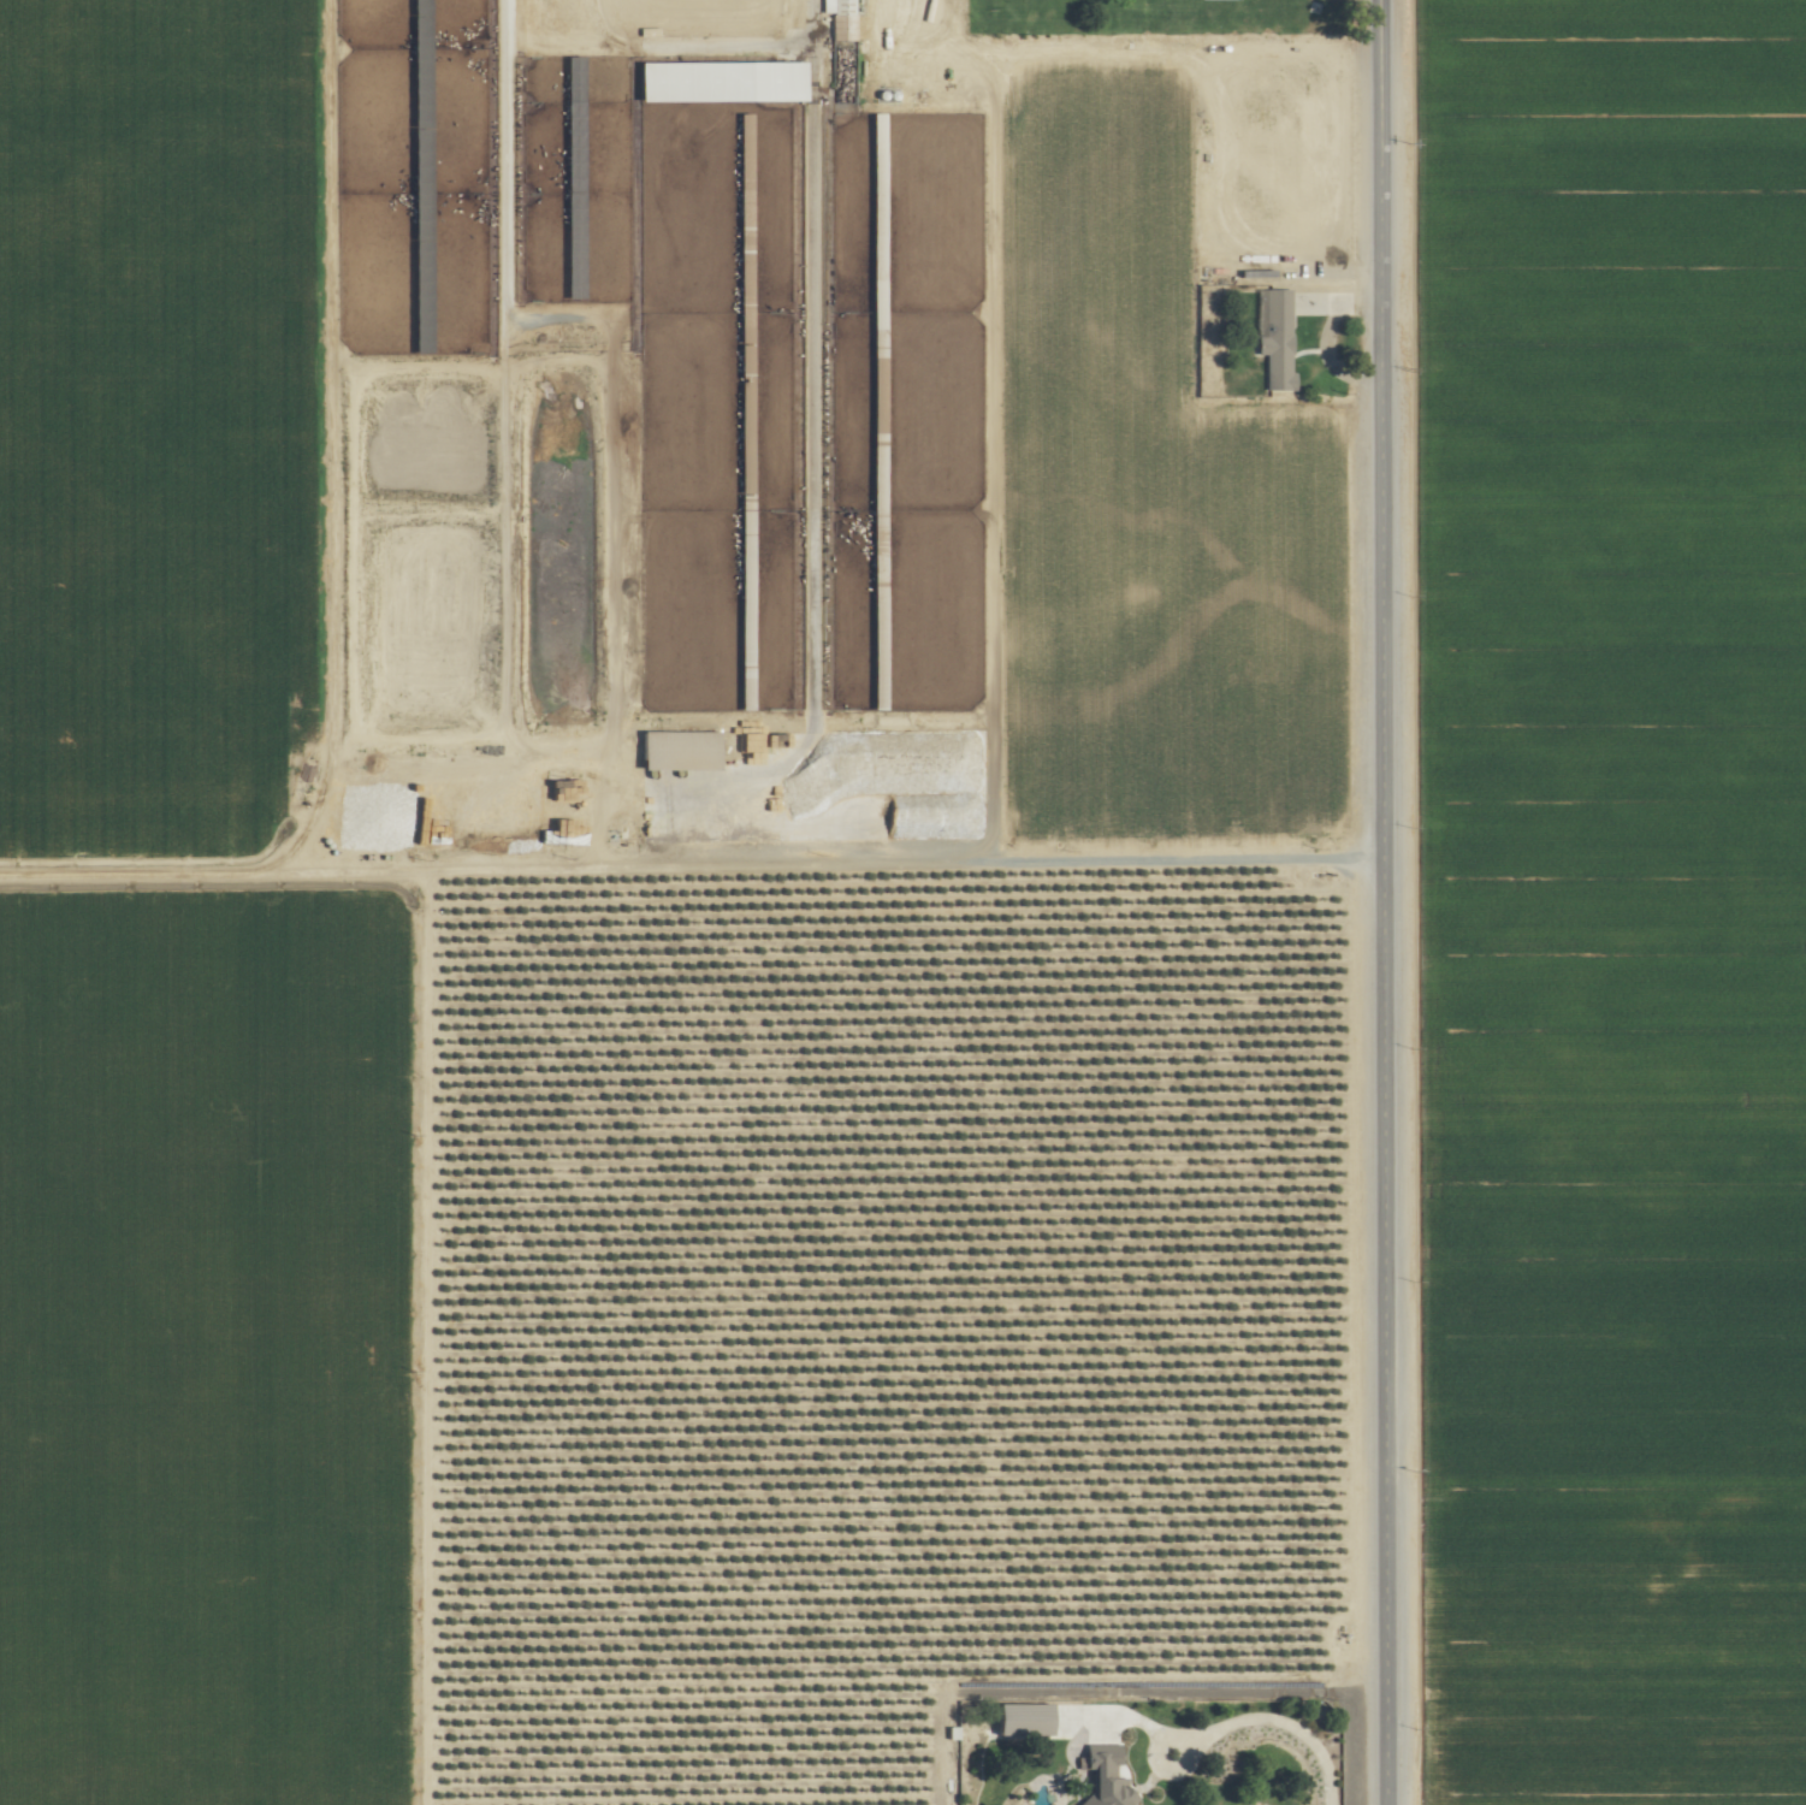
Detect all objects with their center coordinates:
building: (837, 16)
building: (715, 82)
building: (1274, 341)
road: (689, 866)
crop: (902, 902)
road: (1380, 902)
road: (1279, 1721)
building: (1101, 1776)

